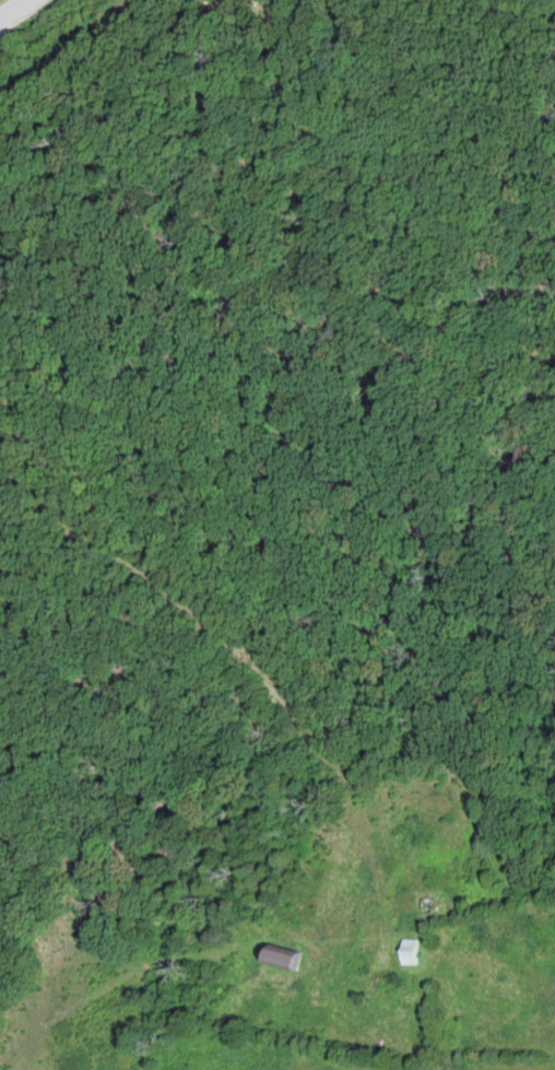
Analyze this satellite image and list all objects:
road: (15, 11)
railway: (63, 50)
building: (413, 953)

